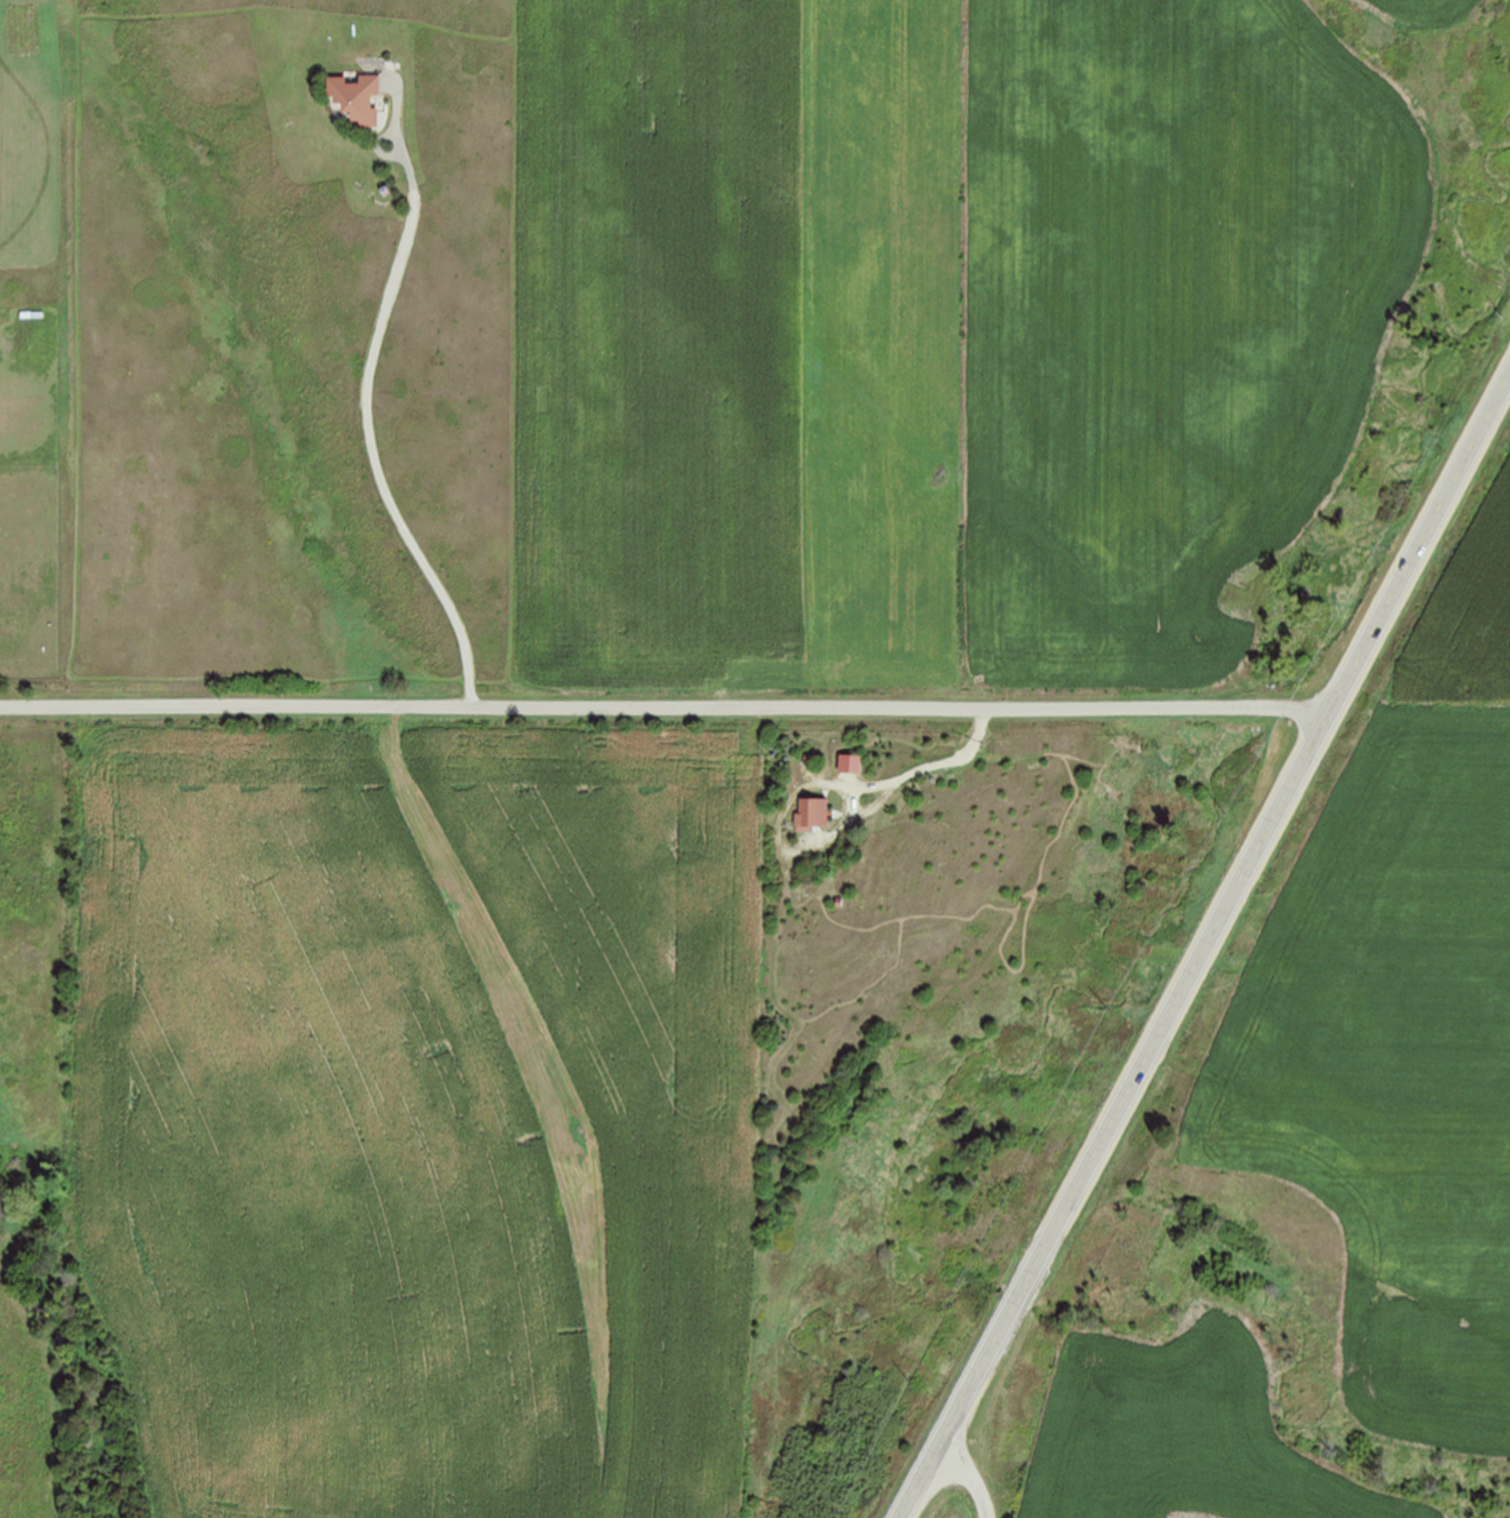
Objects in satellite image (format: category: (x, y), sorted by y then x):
building: (356, 97)
road: (381, 149)
road: (369, 399)
road: (664, 708)
building: (850, 764)
road: (853, 801)
building: (811, 814)
road: (824, 839)
road: (1210, 946)
road: (967, 1478)

